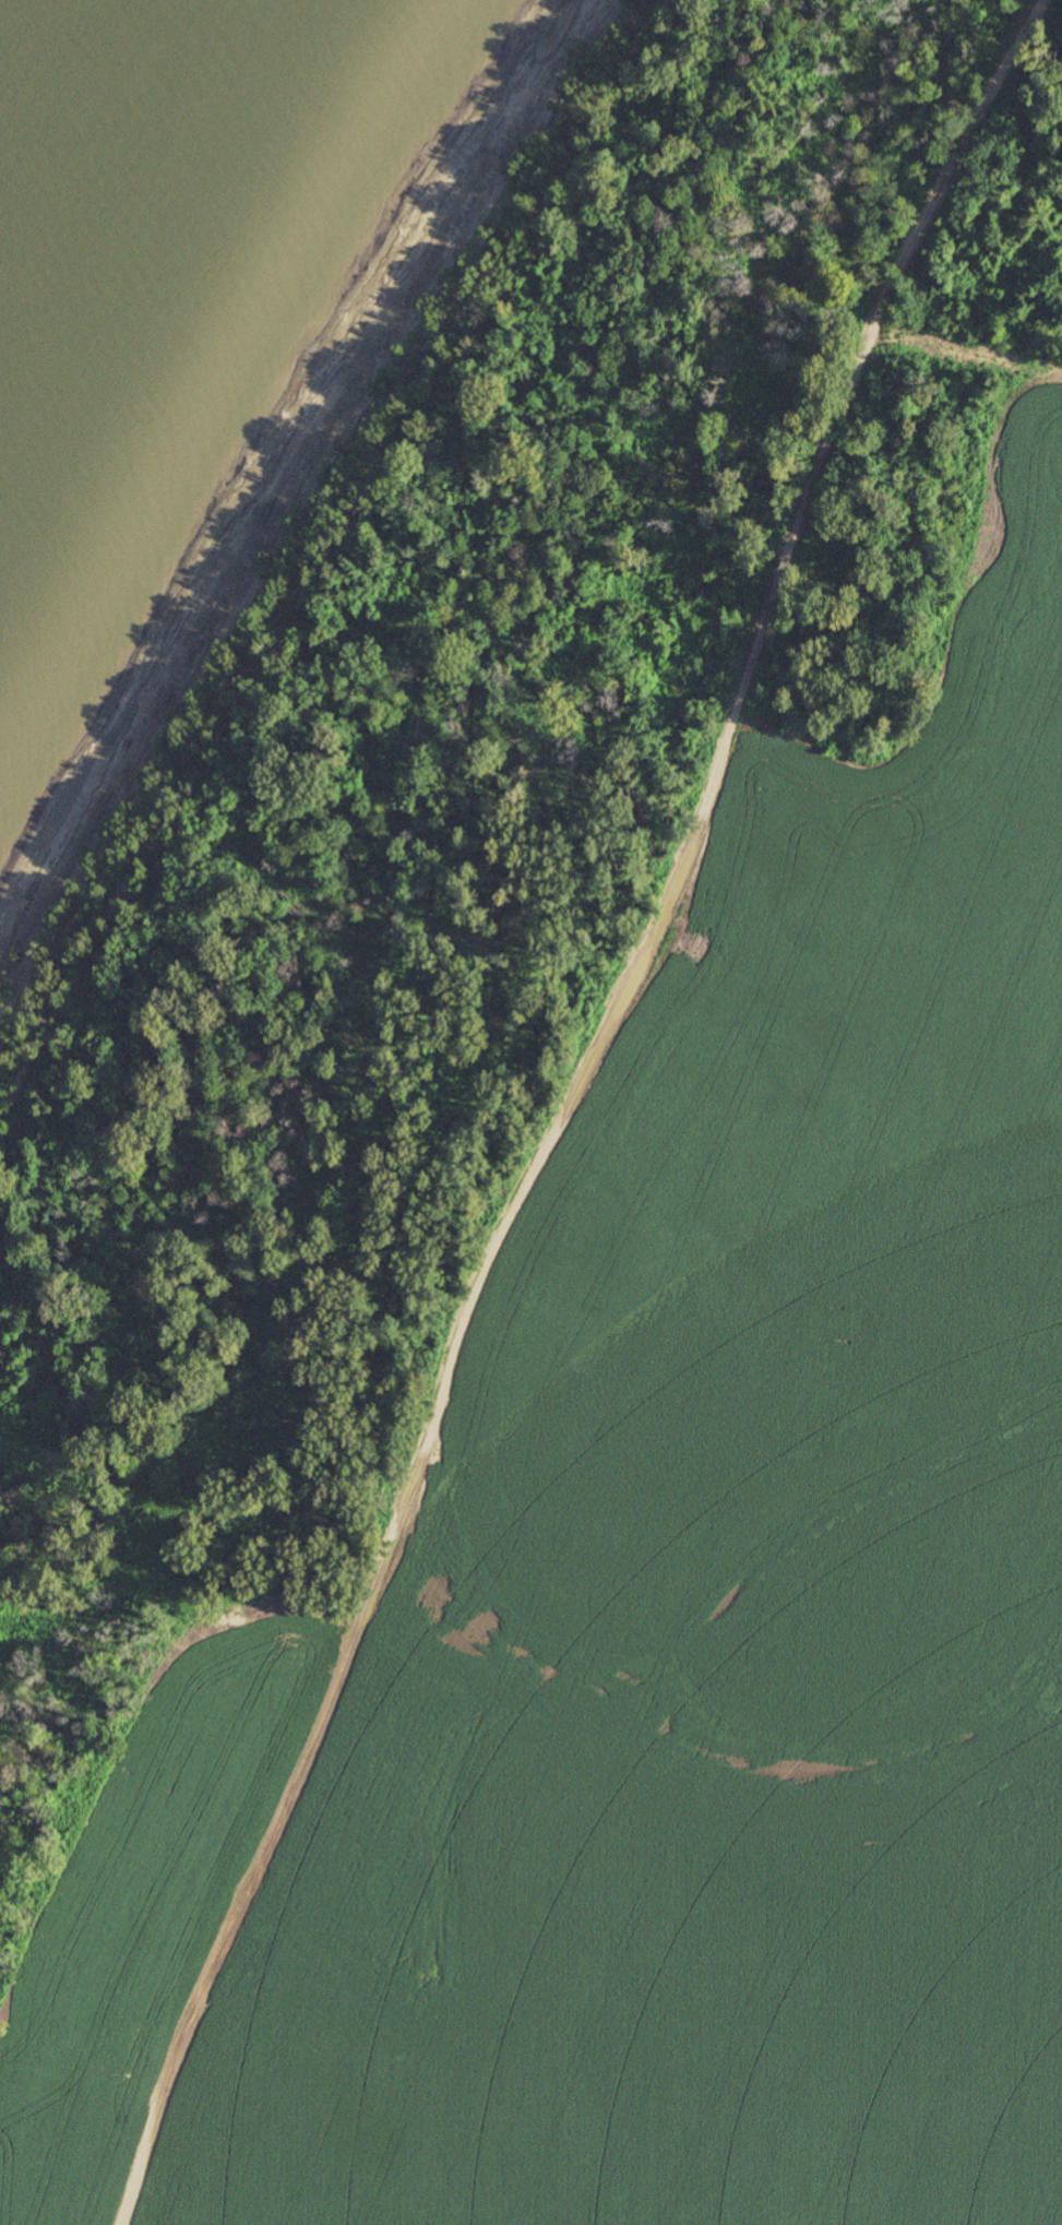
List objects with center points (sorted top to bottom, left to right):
road: (565, 1104)

